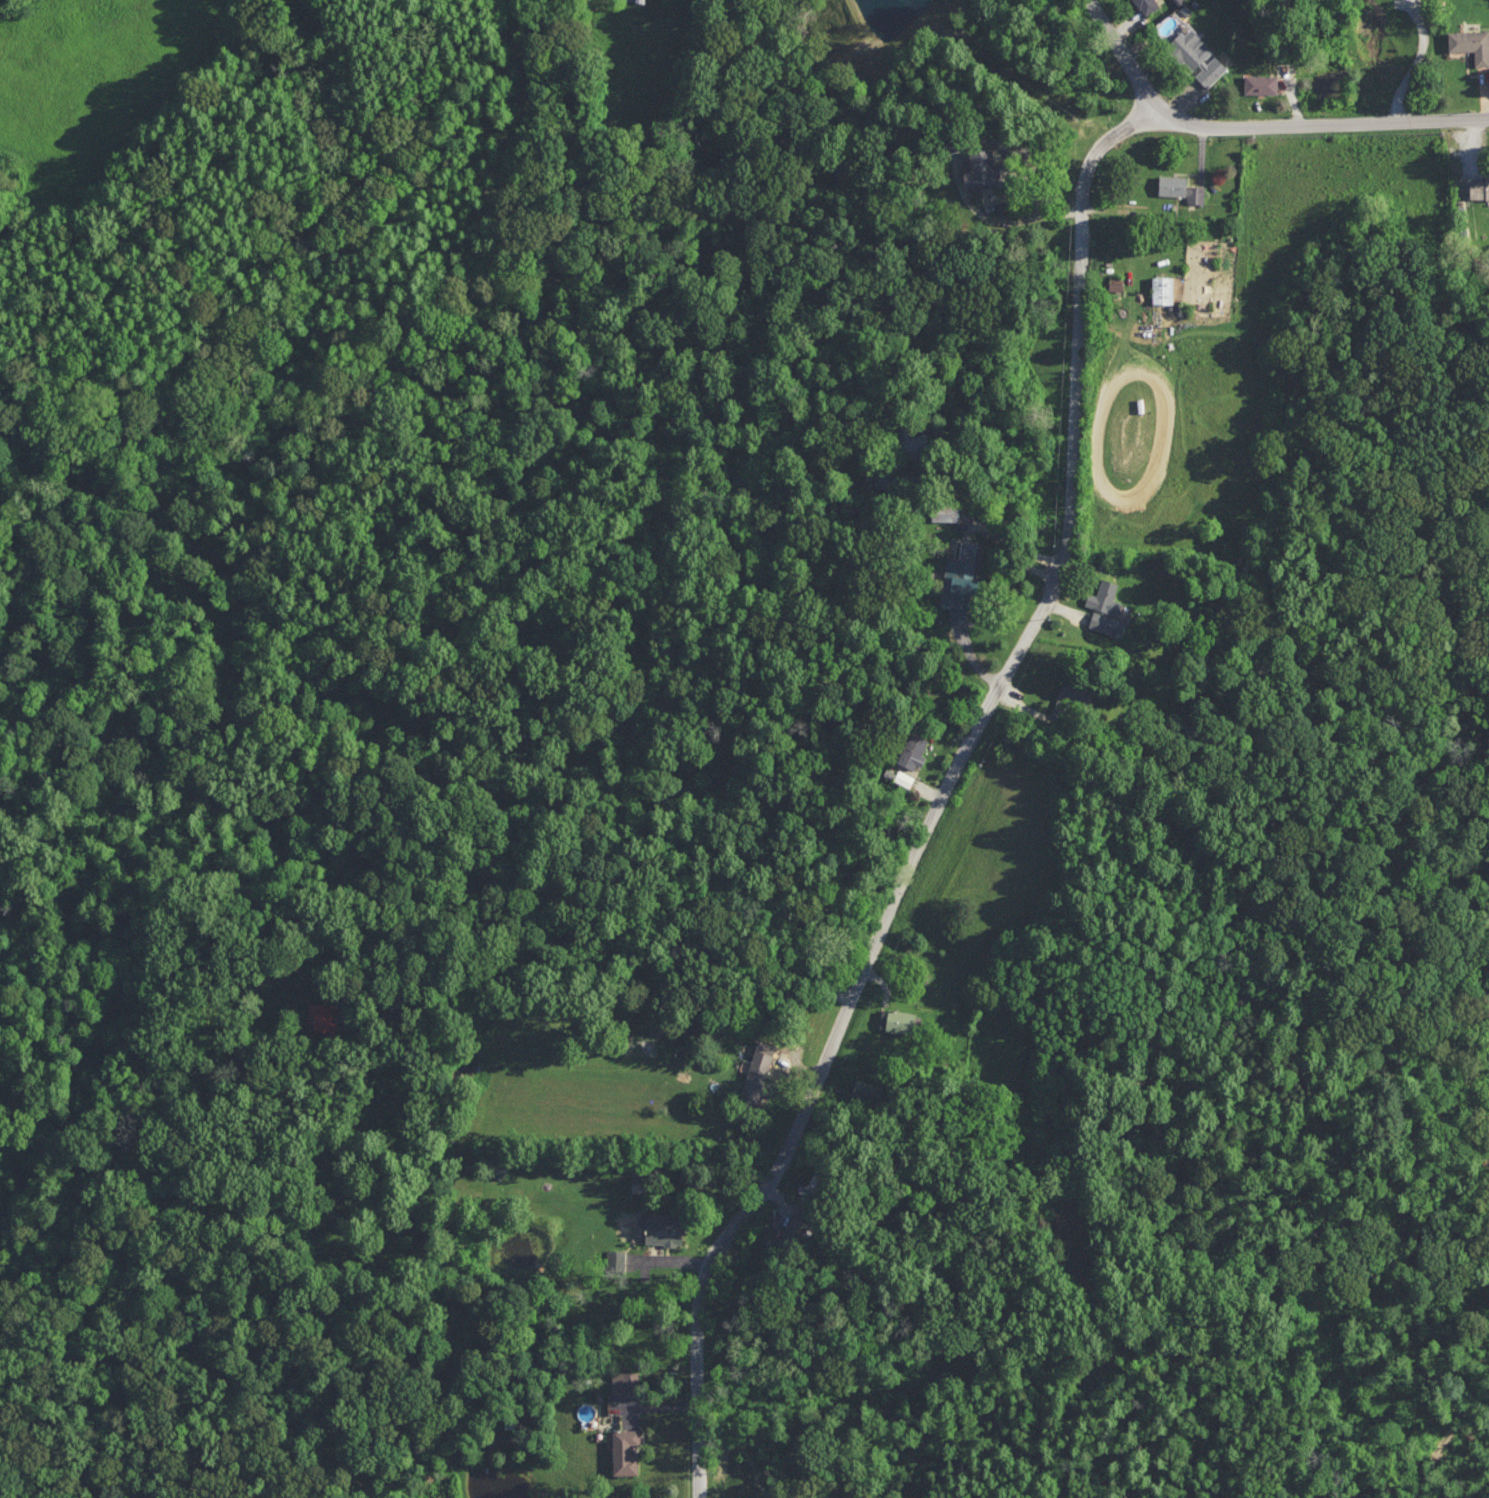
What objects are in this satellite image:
building: (640, 0)
building: (1147, 5)
building: (1471, 43)
building: (1196, 56)
road: (1413, 67)
building: (1261, 83)
road: (1255, 125)
building: (980, 167)
building: (1181, 188)
building: (1480, 188)
building: (1163, 289)
road: (994, 509)
building: (959, 589)
building: (1105, 597)
building: (1107, 623)
building: (1070, 701)
building: (913, 751)
road: (944, 794)
road: (599, 996)
building: (323, 1015)
building: (897, 1020)
building: (757, 1071)
building: (866, 1090)
building: (664, 1228)
building: (798, 1228)
building: (616, 1259)
building: (625, 1380)
building: (625, 1450)

